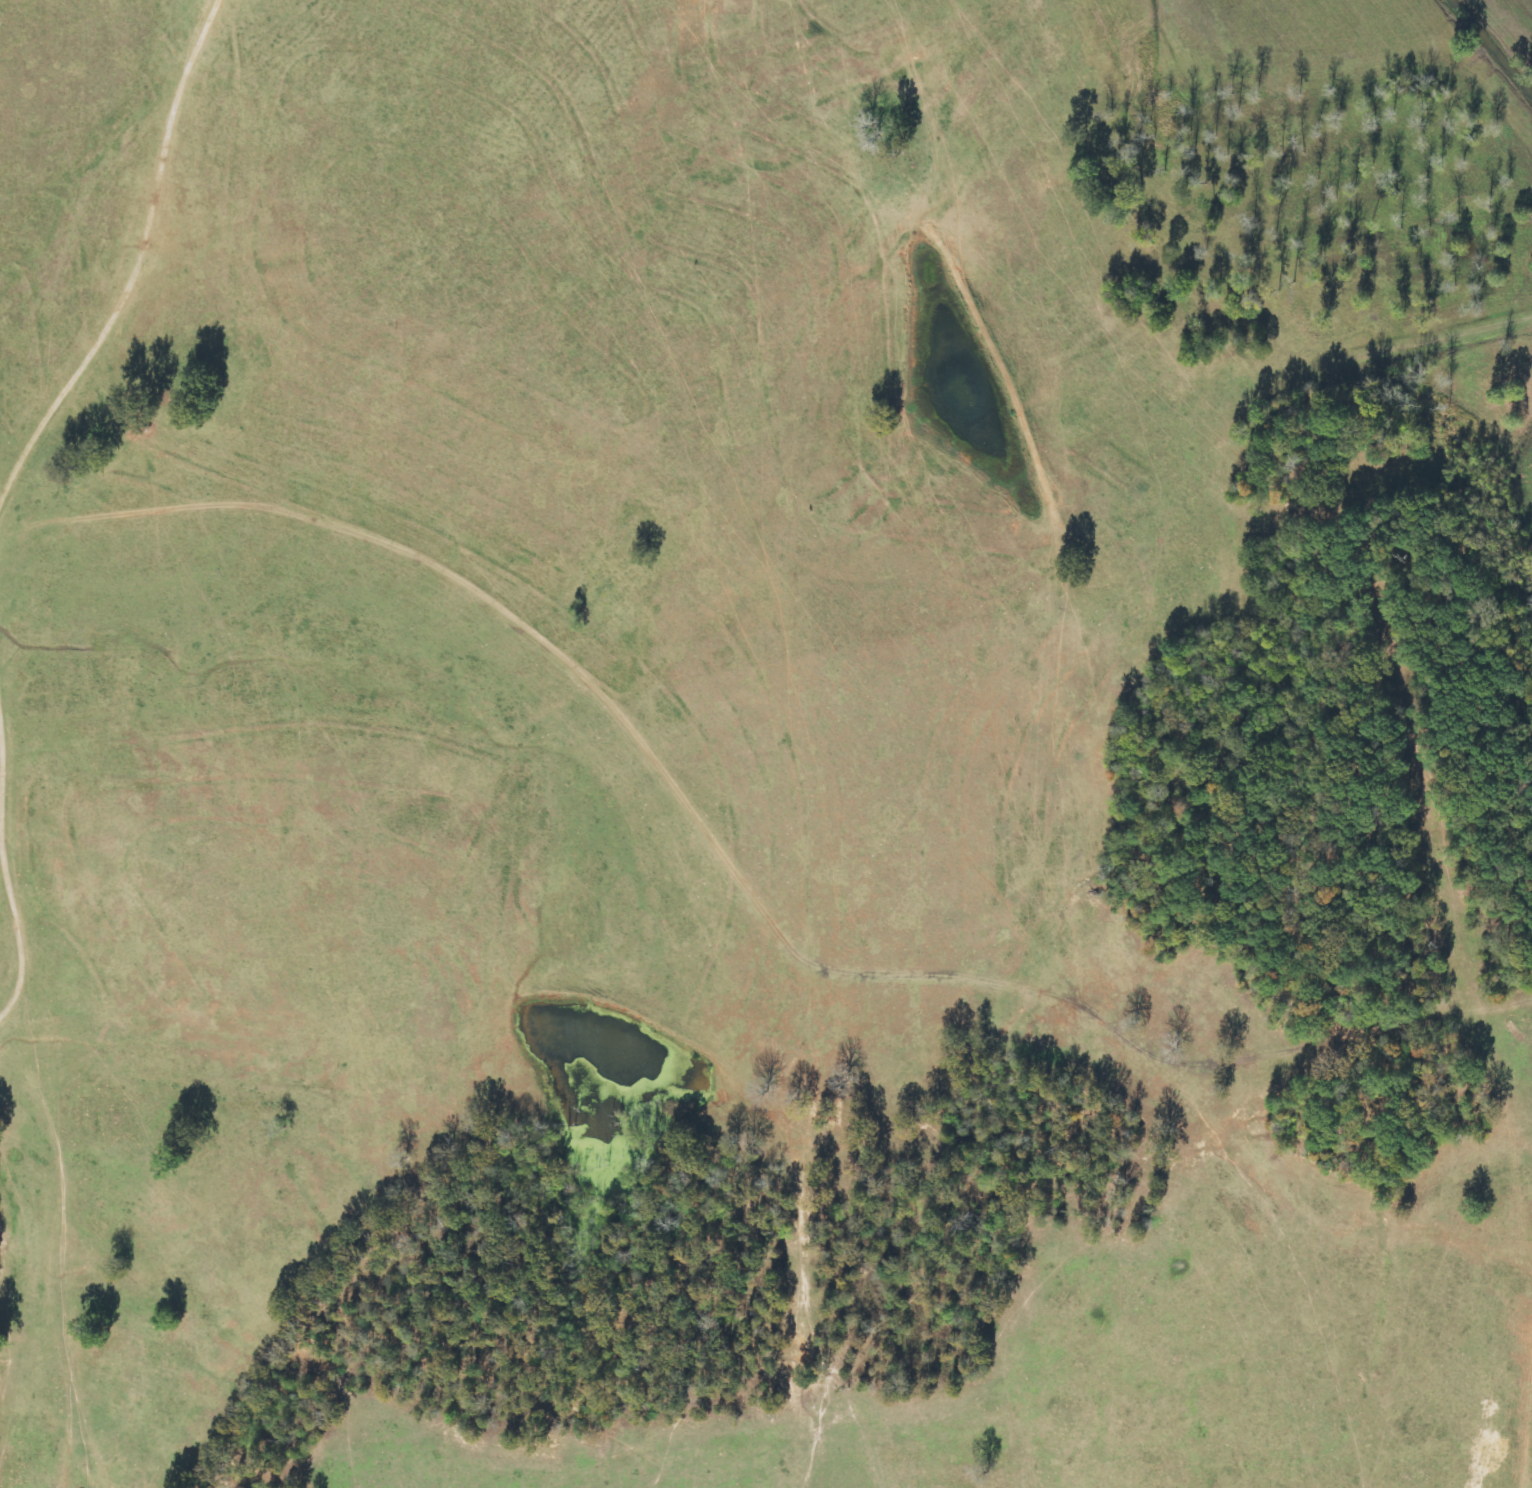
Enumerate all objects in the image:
road: (125, 269)
road: (13, 916)

